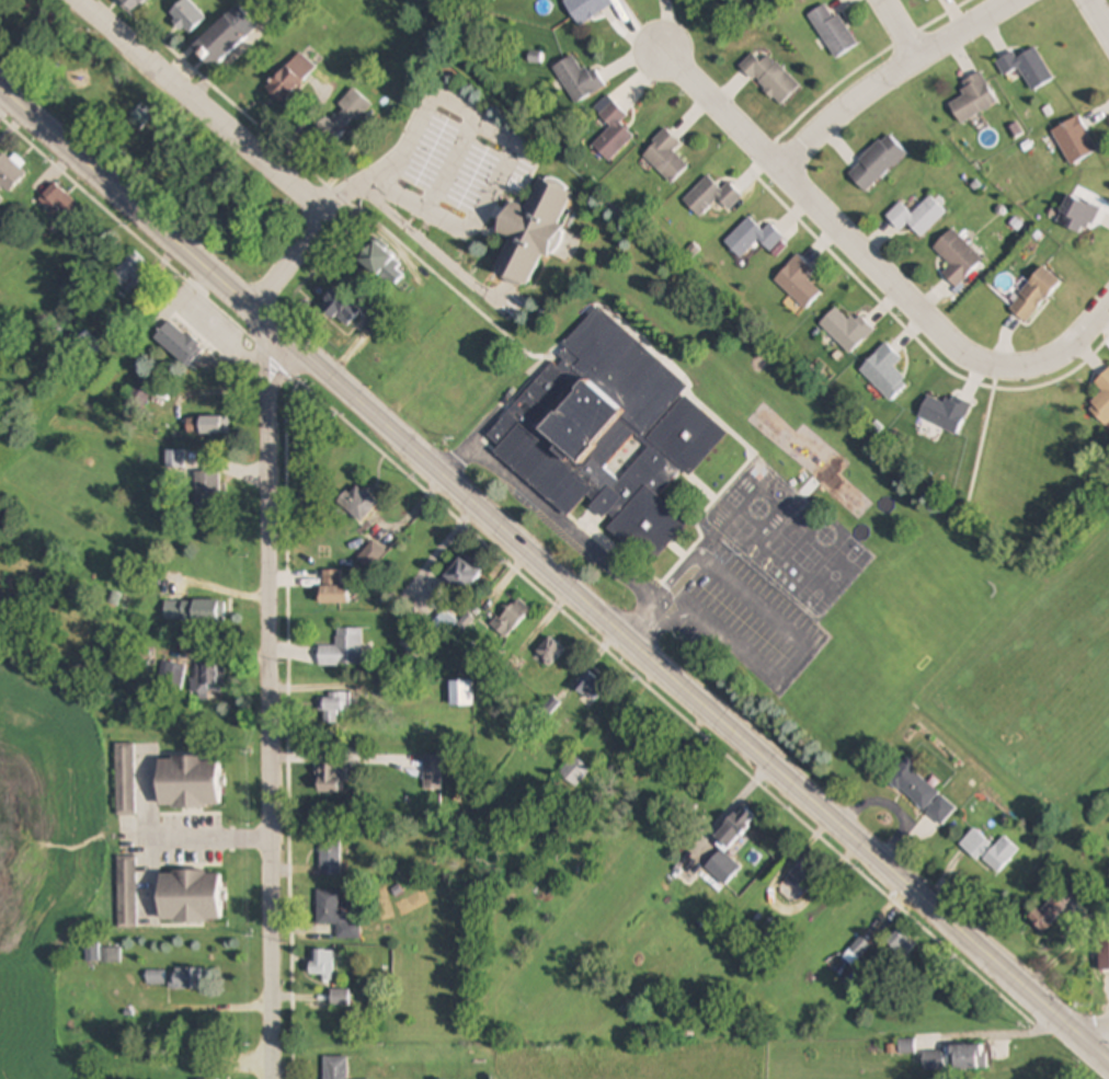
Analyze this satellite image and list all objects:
building: (133, 4)
building: (586, 9)
building: (187, 18)
road: (1099, 21)
road: (904, 27)
building: (833, 31)
building: (227, 35)
building: (354, 35)
building: (1028, 67)
building: (770, 78)
road: (894, 78)
building: (291, 79)
building: (579, 80)
building: (973, 97)
building: (344, 115)
building: (140, 123)
building: (613, 133)
park: (147, 136)
building: (1075, 140)
road: (255, 153)
building: (665, 156)
building: (877, 162)
building: (10, 173)
road: (382, 190)
building: (710, 196)
building: (1, 200)
building: (60, 203)
building: (1077, 215)
building: (917, 216)
building: (530, 231)
building: (752, 237)
building: (958, 257)
road: (872, 262)
building: (382, 264)
building: (130, 272)
building: (799, 282)
building: (1034, 295)
building: (340, 307)
building: (846, 330)
building: (176, 343)
building: (89, 347)
building: (884, 372)
building: (142, 391)
building: (1101, 400)
building: (945, 412)
building: (207, 425)
building: (607, 435)
road: (983, 435)
building: (174, 463)
building: (207, 487)
building: (358, 503)
road: (593, 547)
building: (461, 574)
road: (556, 577)
building: (333, 588)
building: (194, 610)
building: (515, 615)
building: (343, 648)
building: (549, 651)
building: (171, 676)
building: (206, 682)
building: (591, 688)
building: (461, 692)
road: (266, 699)
building: (332, 707)
building: (575, 772)
building: (334, 778)
building: (124, 779)
building: (188, 782)
building: (913, 785)
building: (940, 810)
building: (735, 826)
road: (208, 839)
building: (990, 850)
building: (330, 854)
building: (722, 866)
building: (127, 892)
building: (190, 896)
building: (1053, 909)
building: (335, 915)
building: (902, 944)
building: (857, 951)
building: (1107, 952)
building: (103, 955)
building: (322, 964)
building: (185, 979)
building: (344, 998)
road: (1082, 1017)
building: (967, 1057)
building: (335, 1068)

